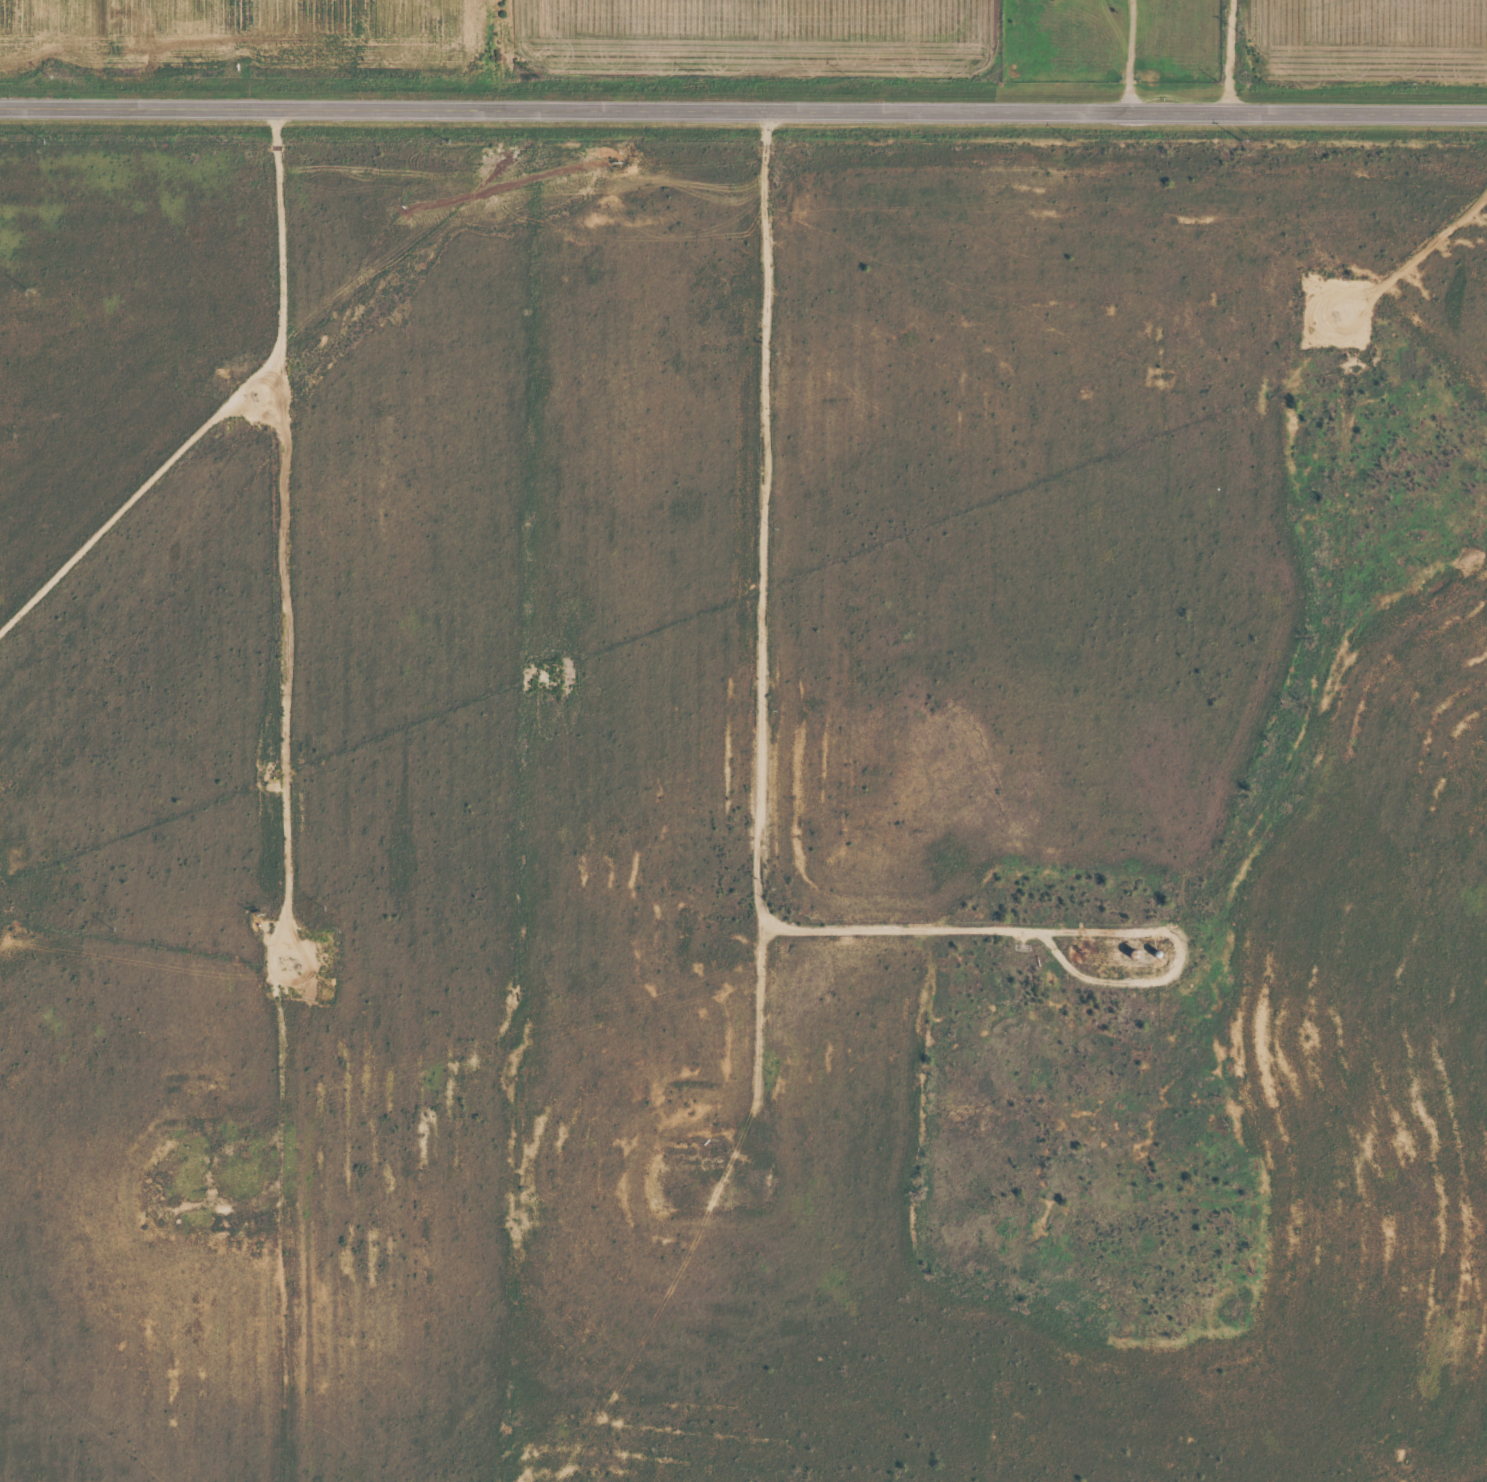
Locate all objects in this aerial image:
road: (1233, 57)
road: (743, 112)
road: (134, 506)
road: (280, 795)
road: (863, 964)
road: (774, 1069)

